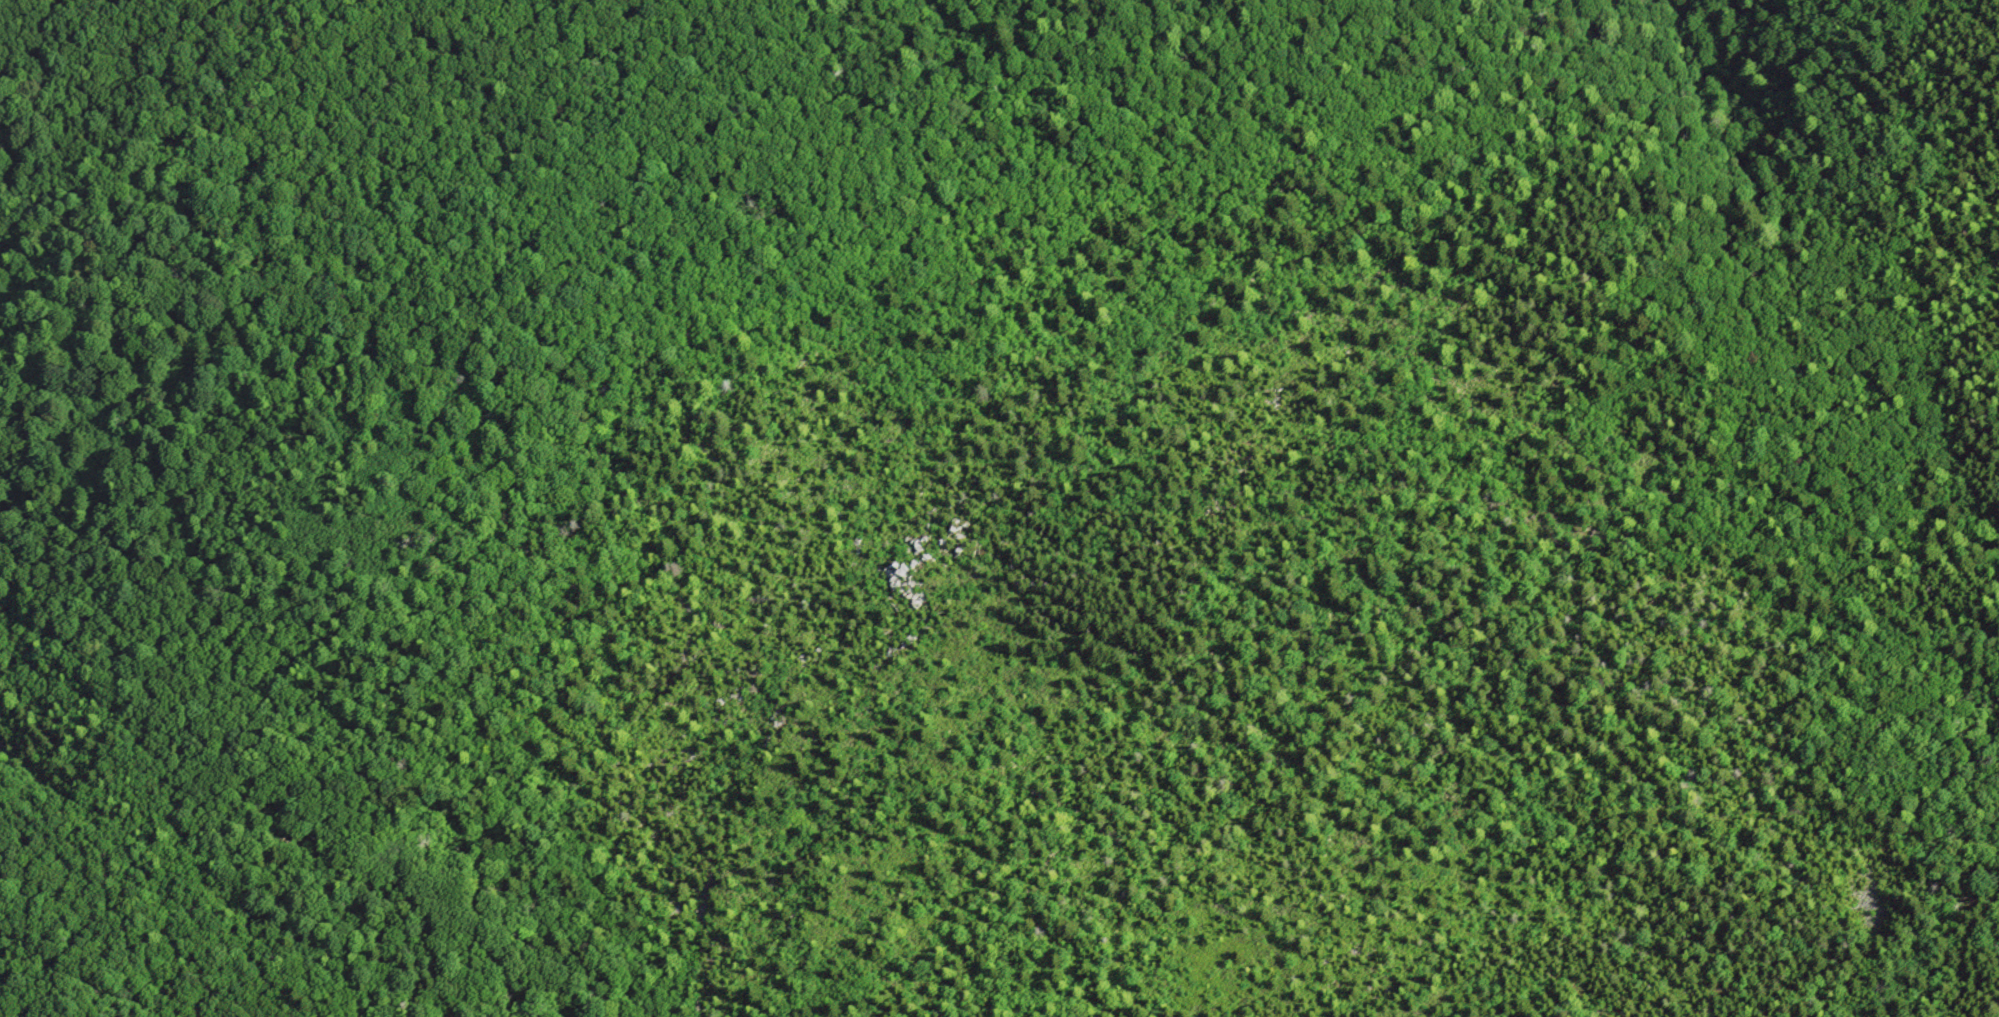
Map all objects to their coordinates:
road: (1939, 974)

